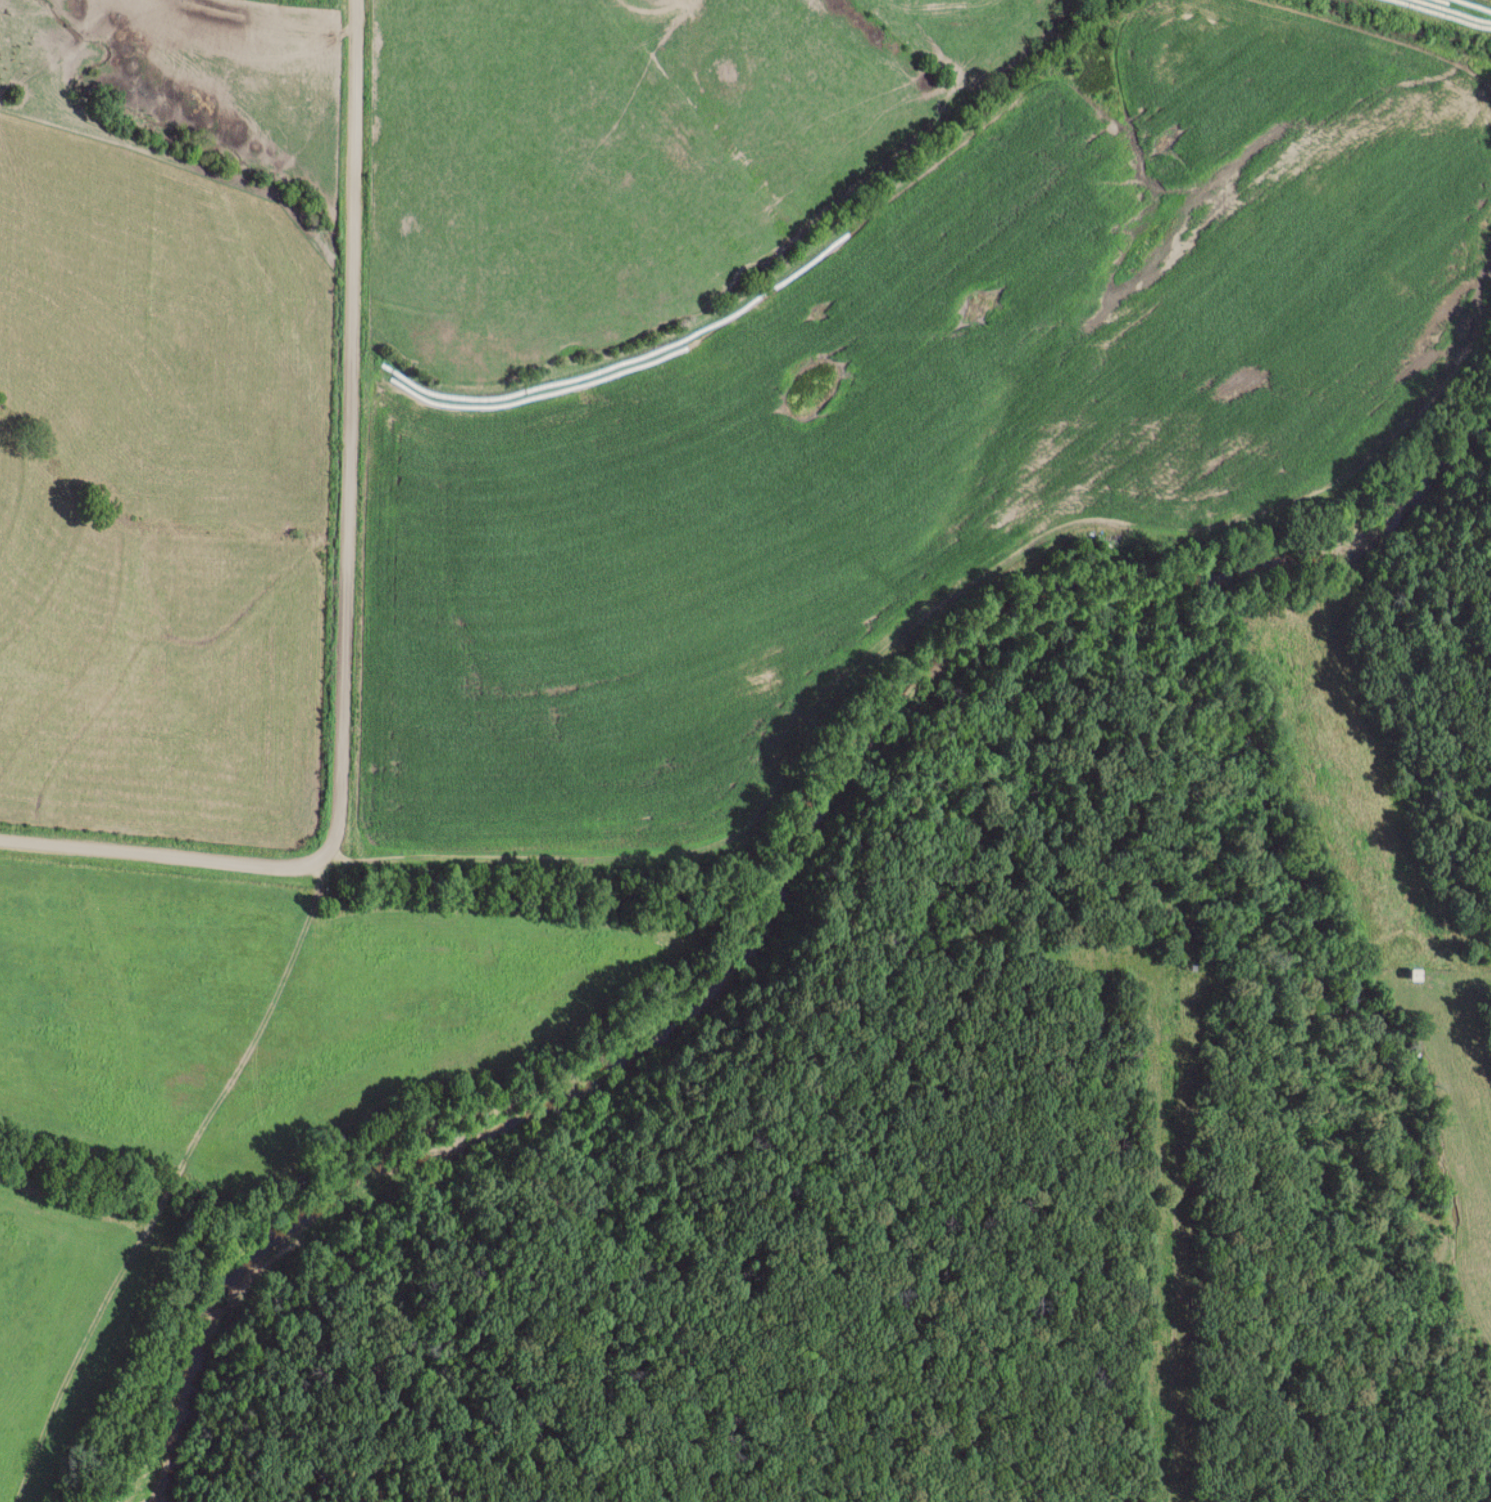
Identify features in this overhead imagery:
road: (346, 595)

